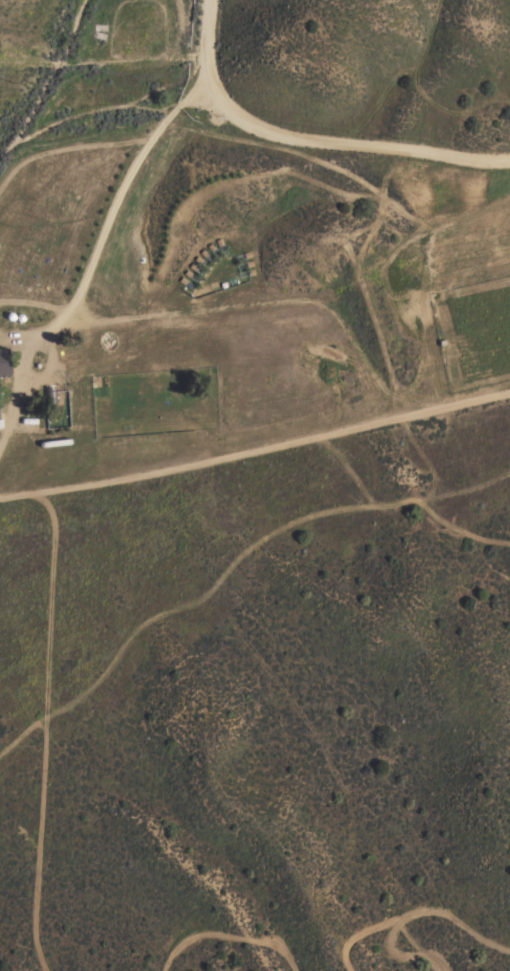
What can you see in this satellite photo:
road: (202, 48)
road: (354, 144)
road: (90, 251)
road: (31, 304)
building: (2, 363)
building: (50, 400)
road: (256, 453)

